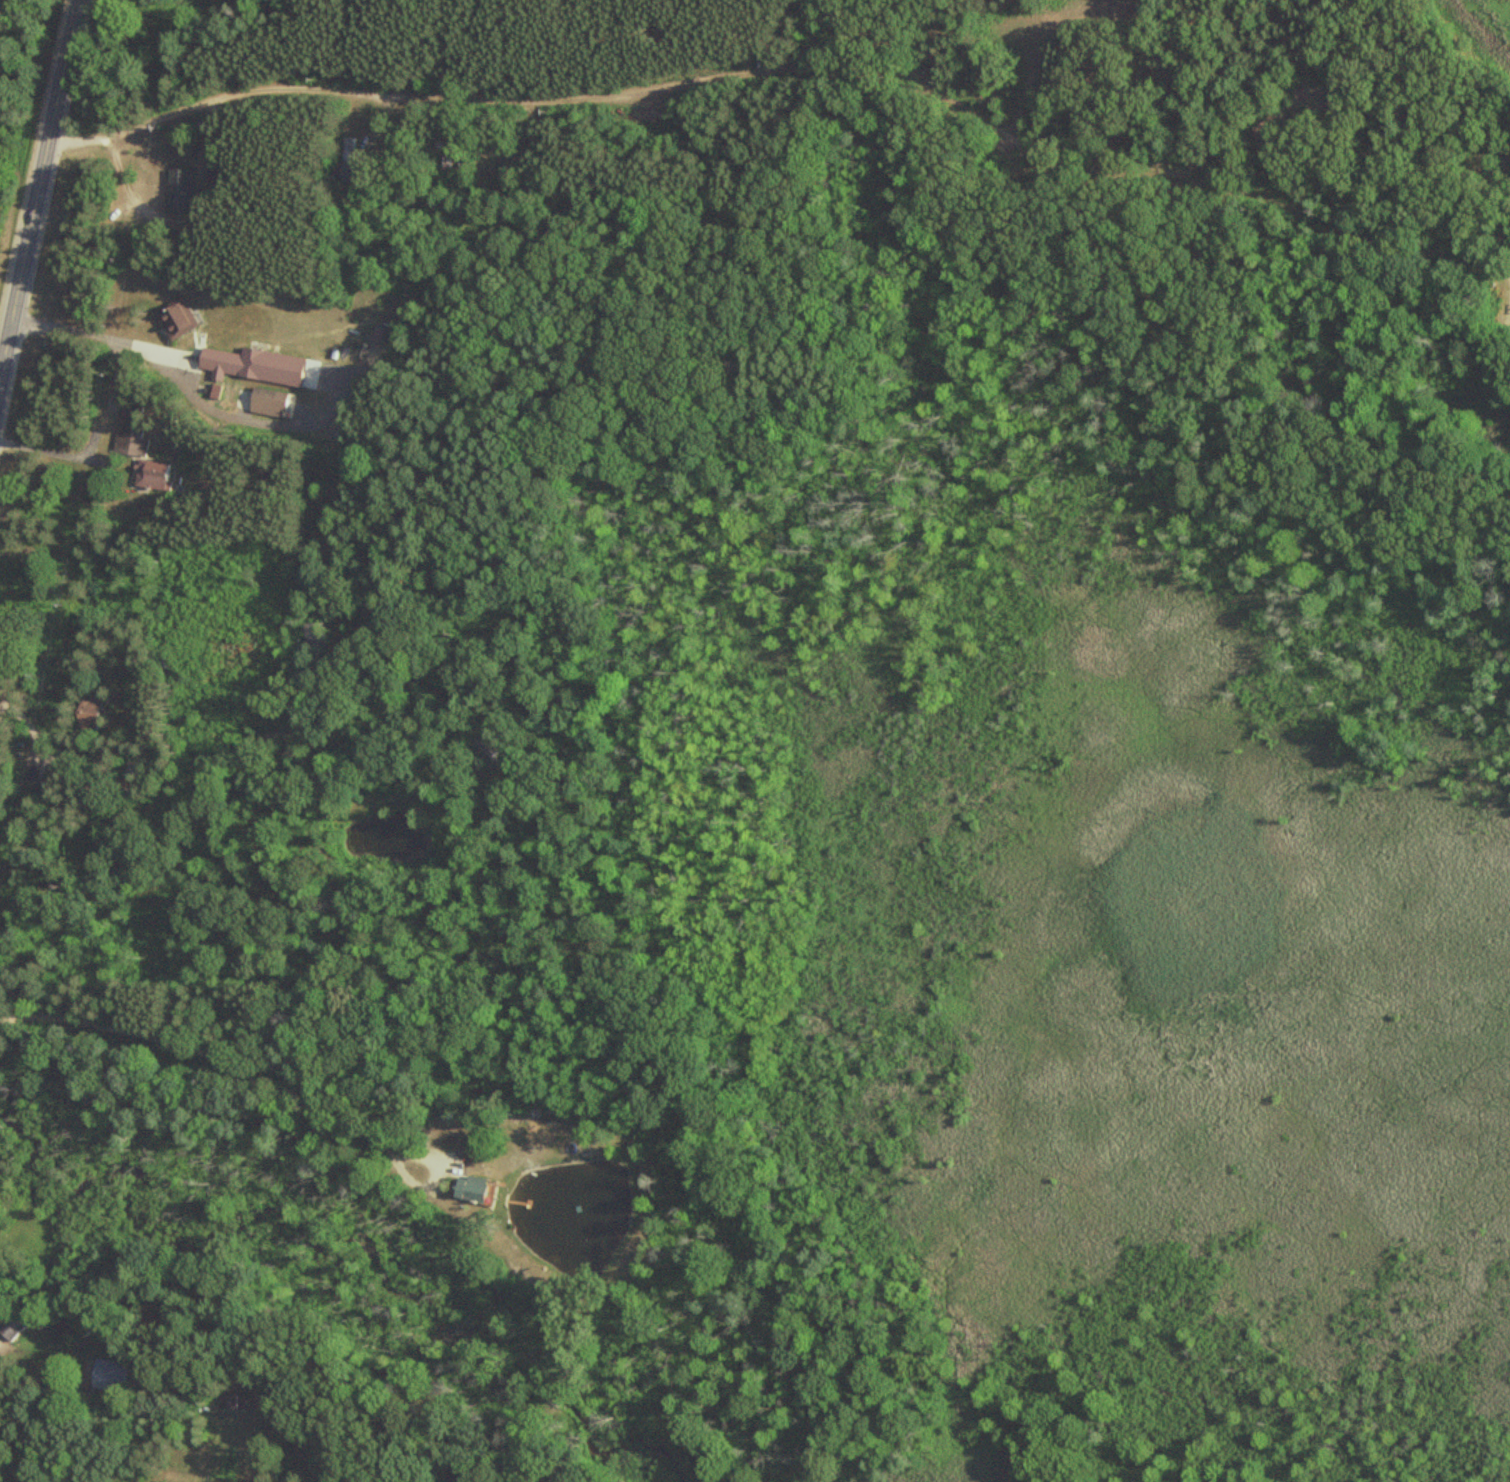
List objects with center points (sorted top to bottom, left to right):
road: (0, 0)
road: (789, 48)
road: (61, 70)
building: (348, 156)
building: (178, 191)
road: (133, 195)
road: (22, 253)
building: (171, 323)
building: (251, 367)
road: (186, 389)
building: (266, 400)
road: (48, 448)
building: (149, 480)
road: (28, 709)
road: (315, 1080)
road: (661, 1133)
building: (467, 1190)
building: (232, 1402)

